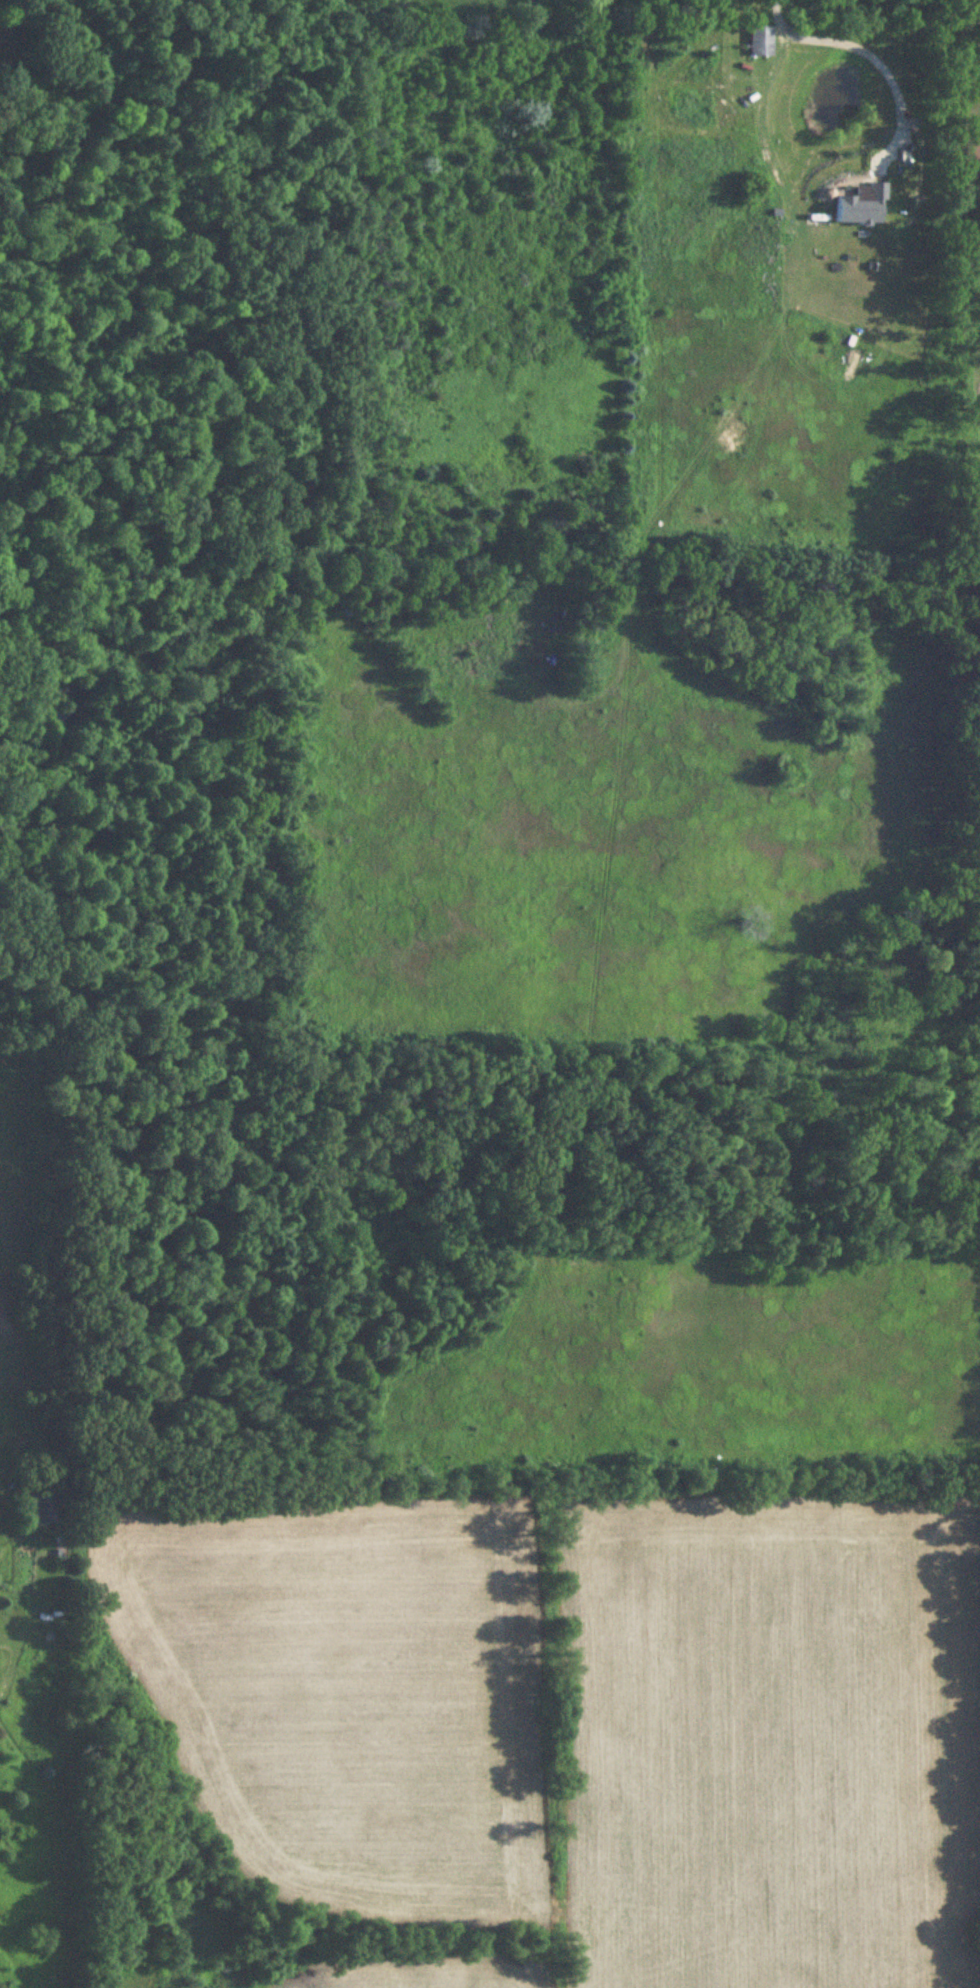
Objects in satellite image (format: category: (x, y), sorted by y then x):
road: (842, 40)
building: (761, 41)
building: (862, 206)
building: (43, 1507)

